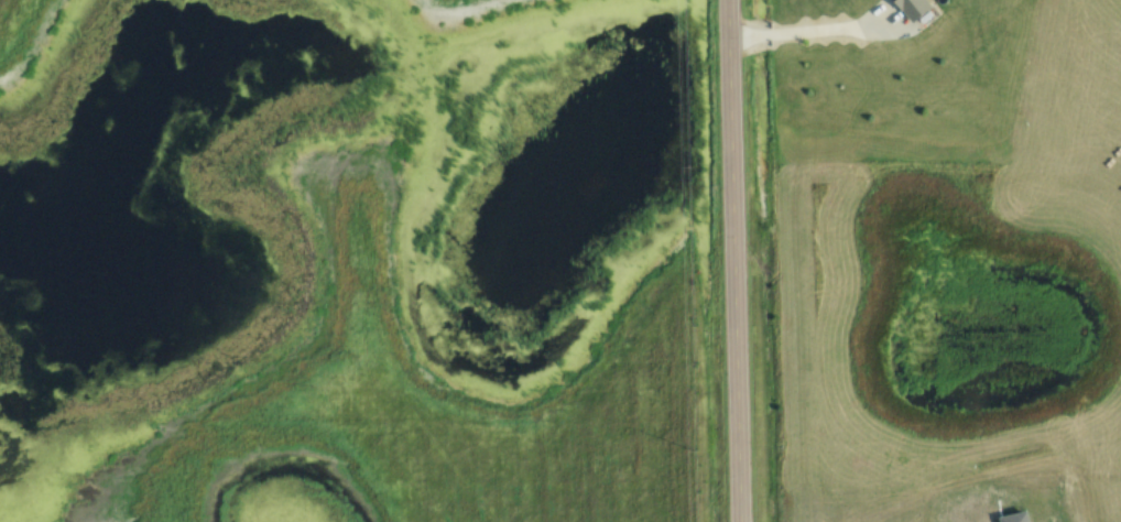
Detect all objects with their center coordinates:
building: (906, 9)
road: (812, 30)
road: (736, 261)

